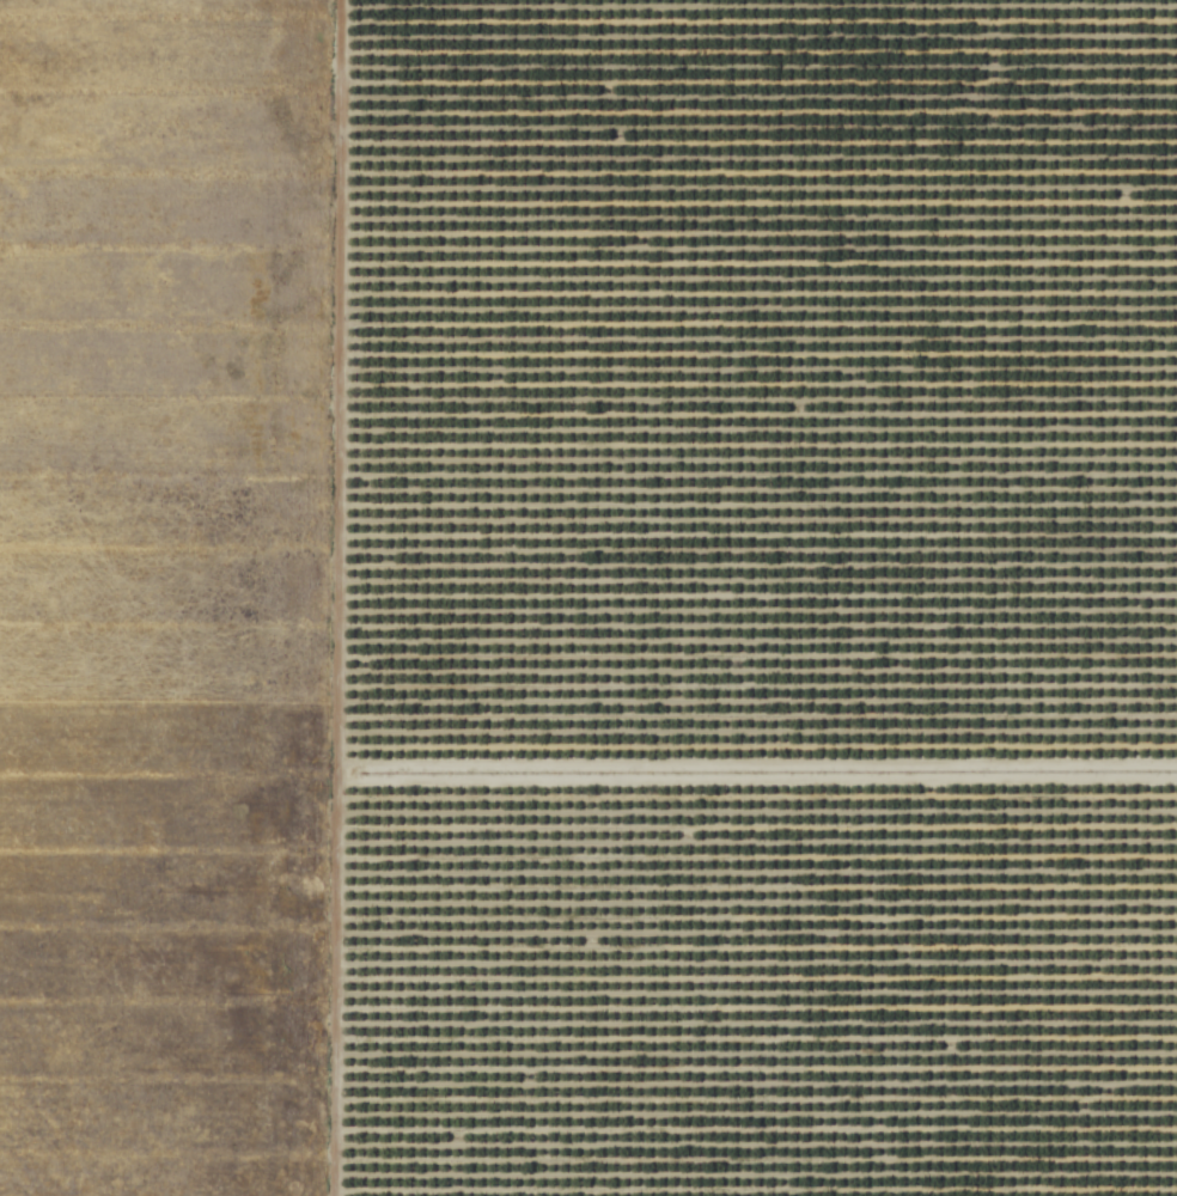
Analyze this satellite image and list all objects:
crop: (163, 596)
road: (331, 597)
road: (754, 771)

